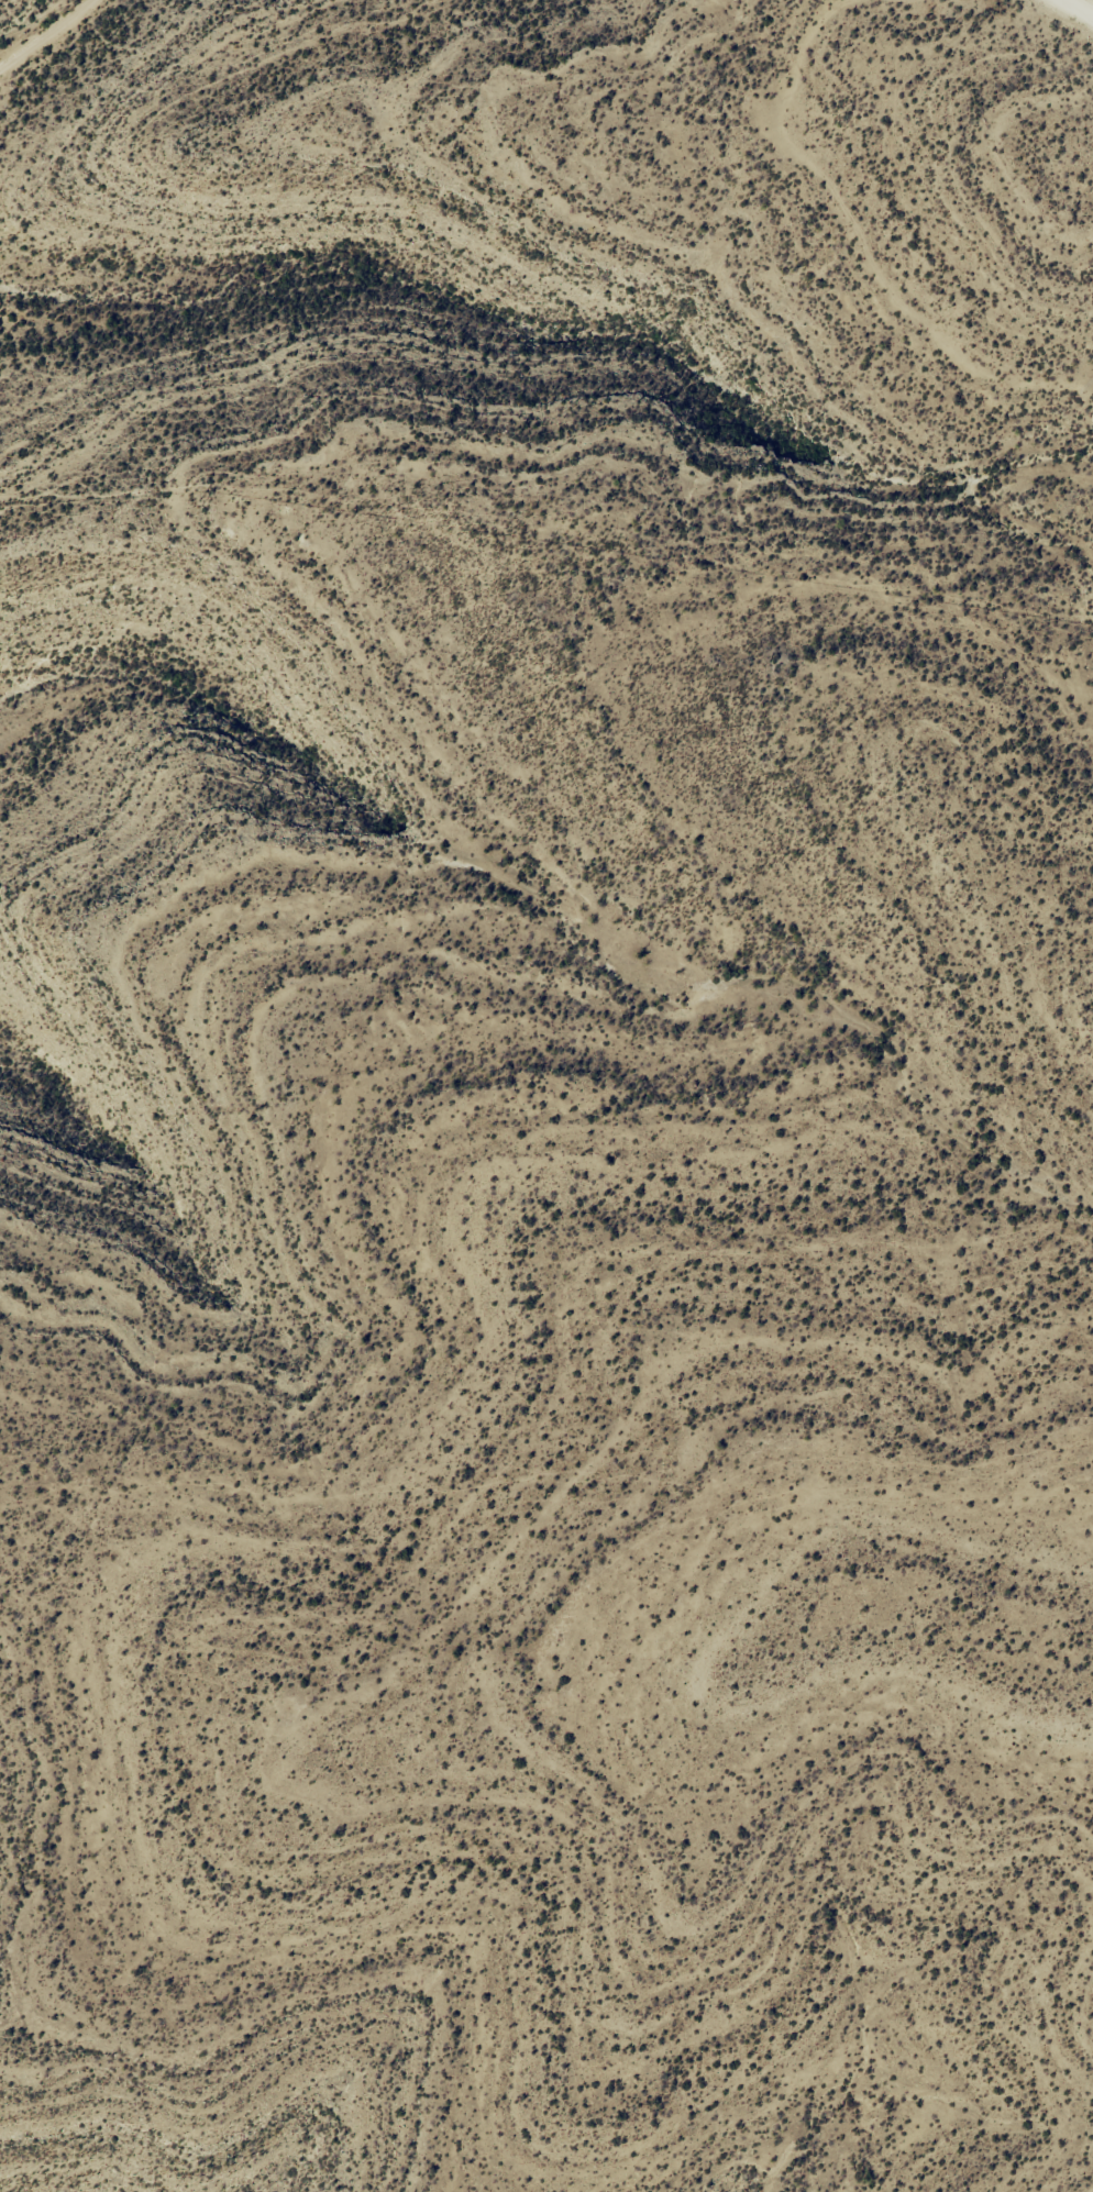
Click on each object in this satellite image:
road: (1063, 26)
road: (62, 38)

